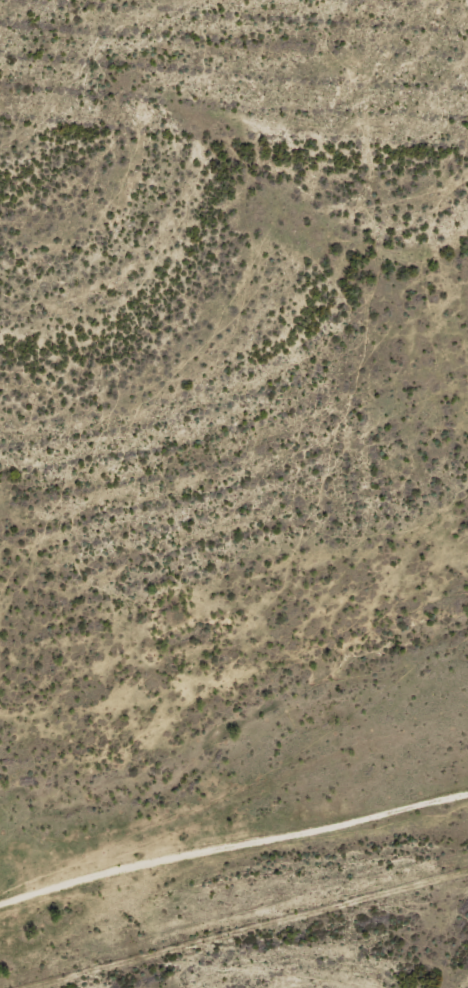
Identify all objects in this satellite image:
road: (232, 843)
road: (78, 980)

